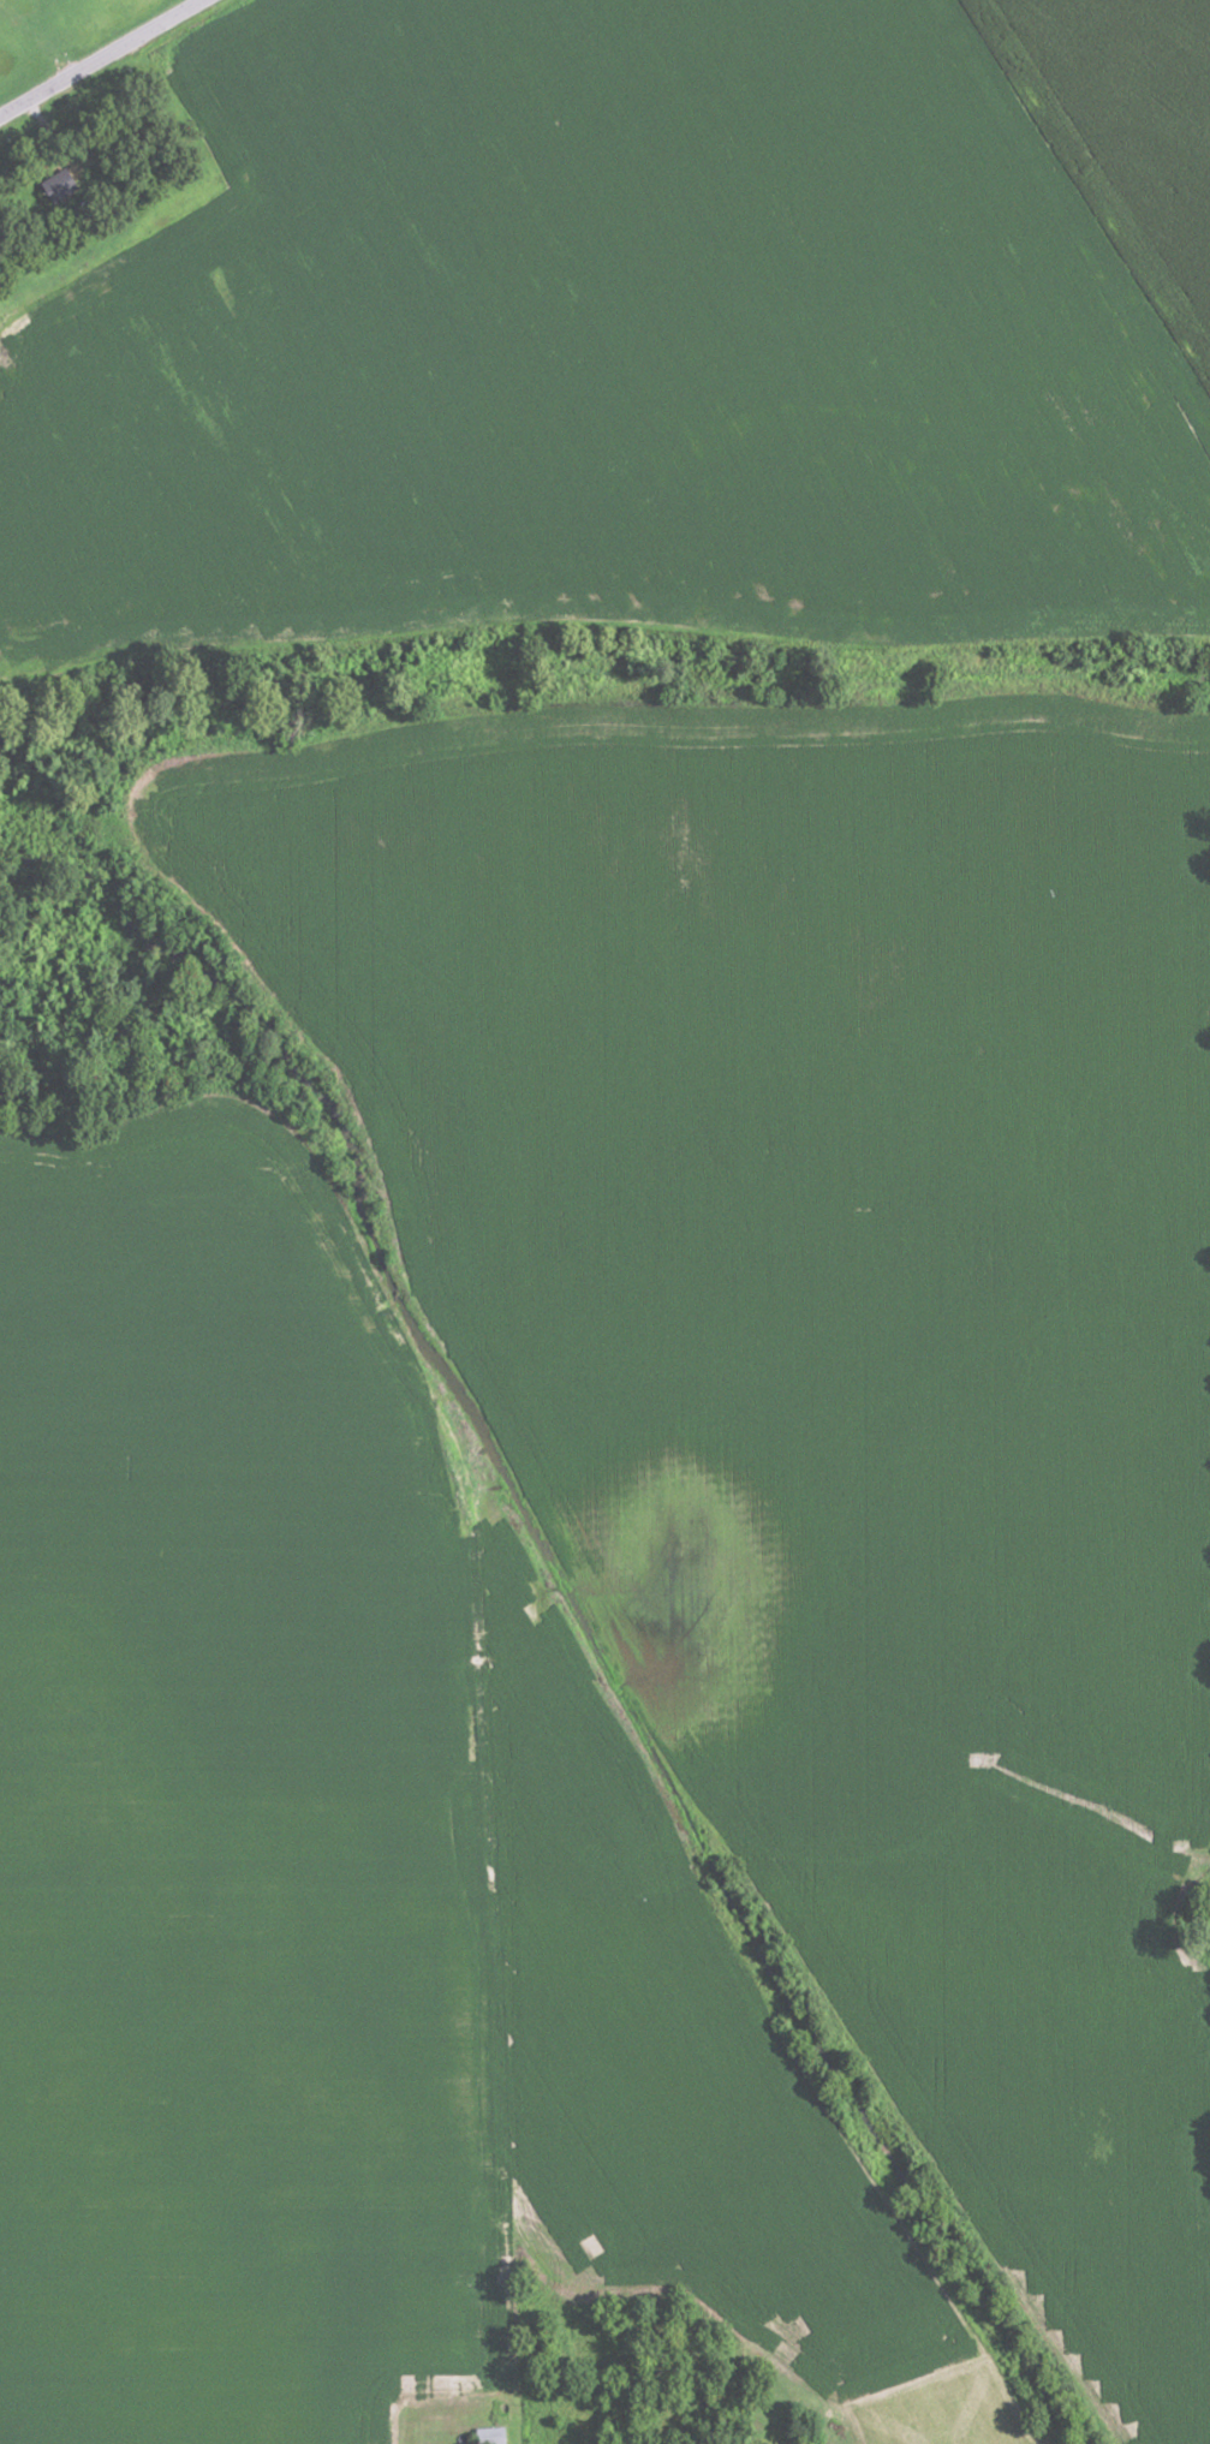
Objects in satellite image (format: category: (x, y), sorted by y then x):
road: (32, 41)
road: (100, 58)
building: (58, 184)
building: (491, 2434)

